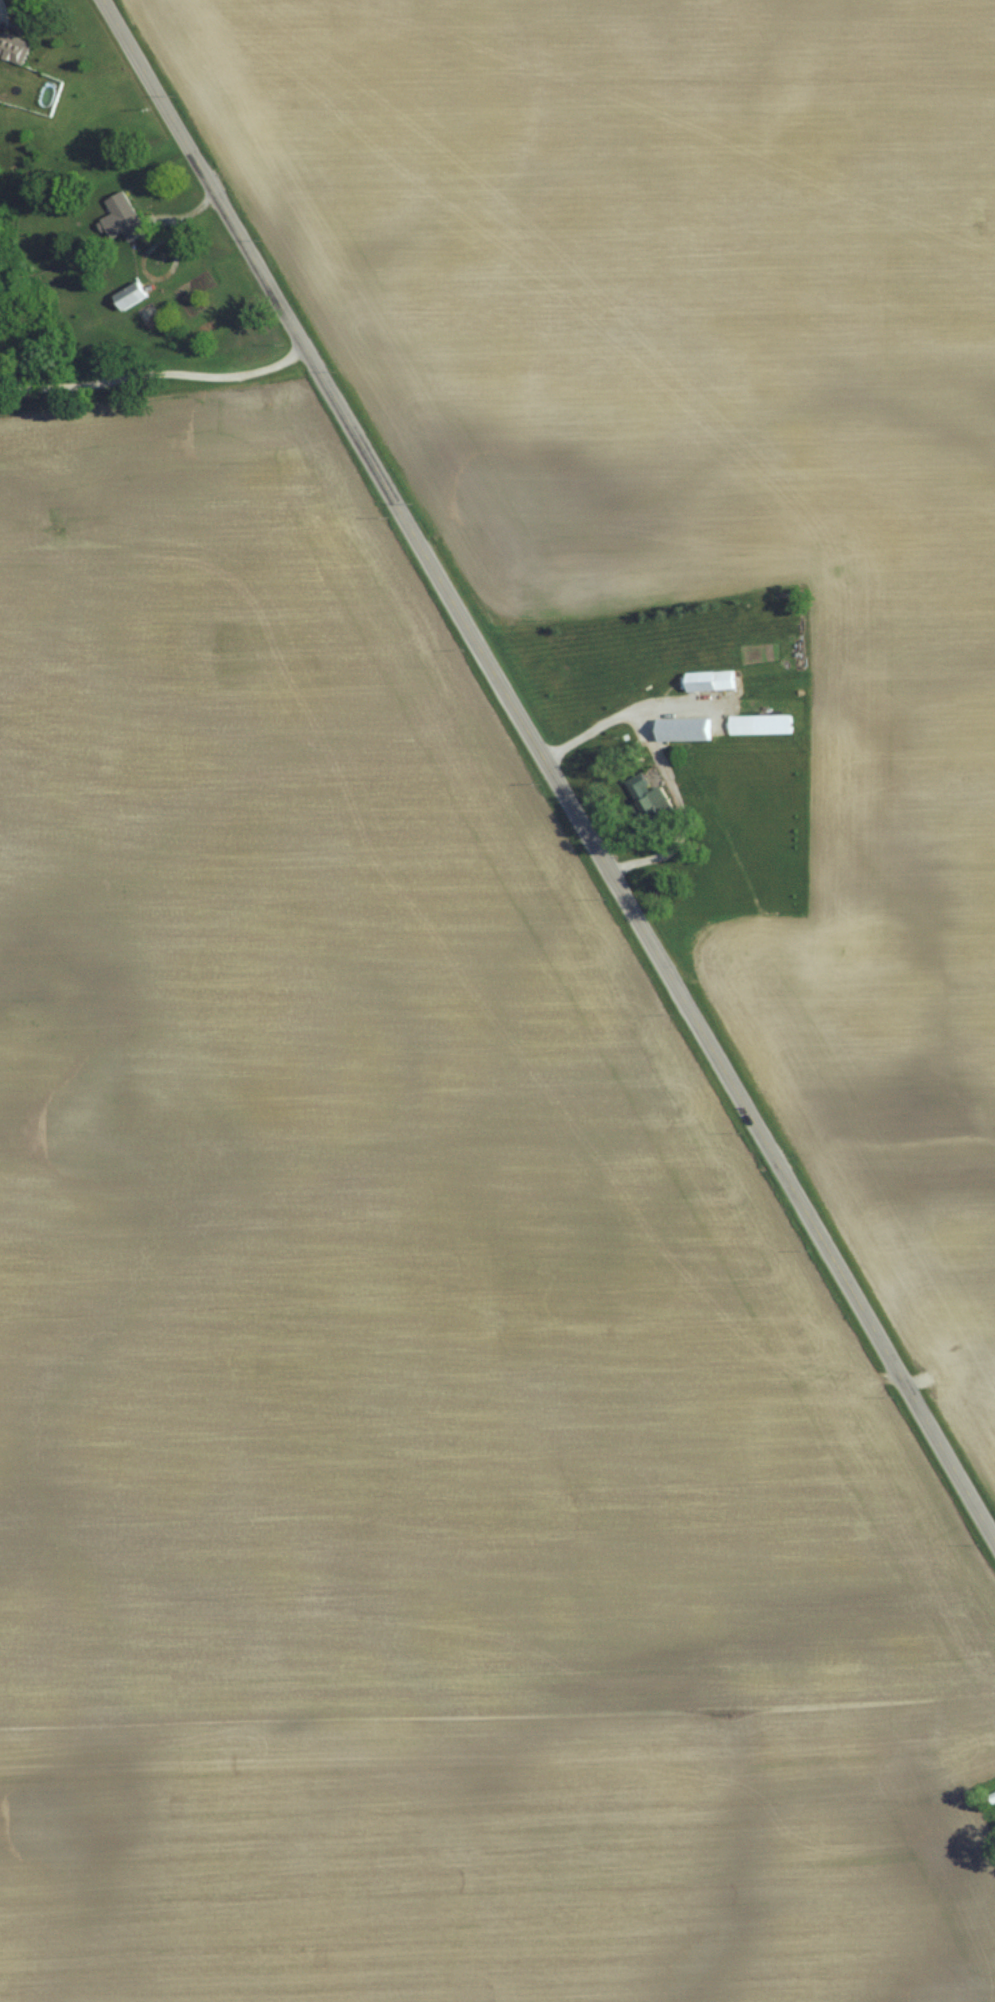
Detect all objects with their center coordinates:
building: (15, 48)
building: (128, 216)
building: (134, 296)
building: (150, 313)
road: (153, 373)
building: (712, 681)
road: (623, 708)
building: (761, 725)
building: (686, 730)
road: (548, 772)
road: (680, 807)

